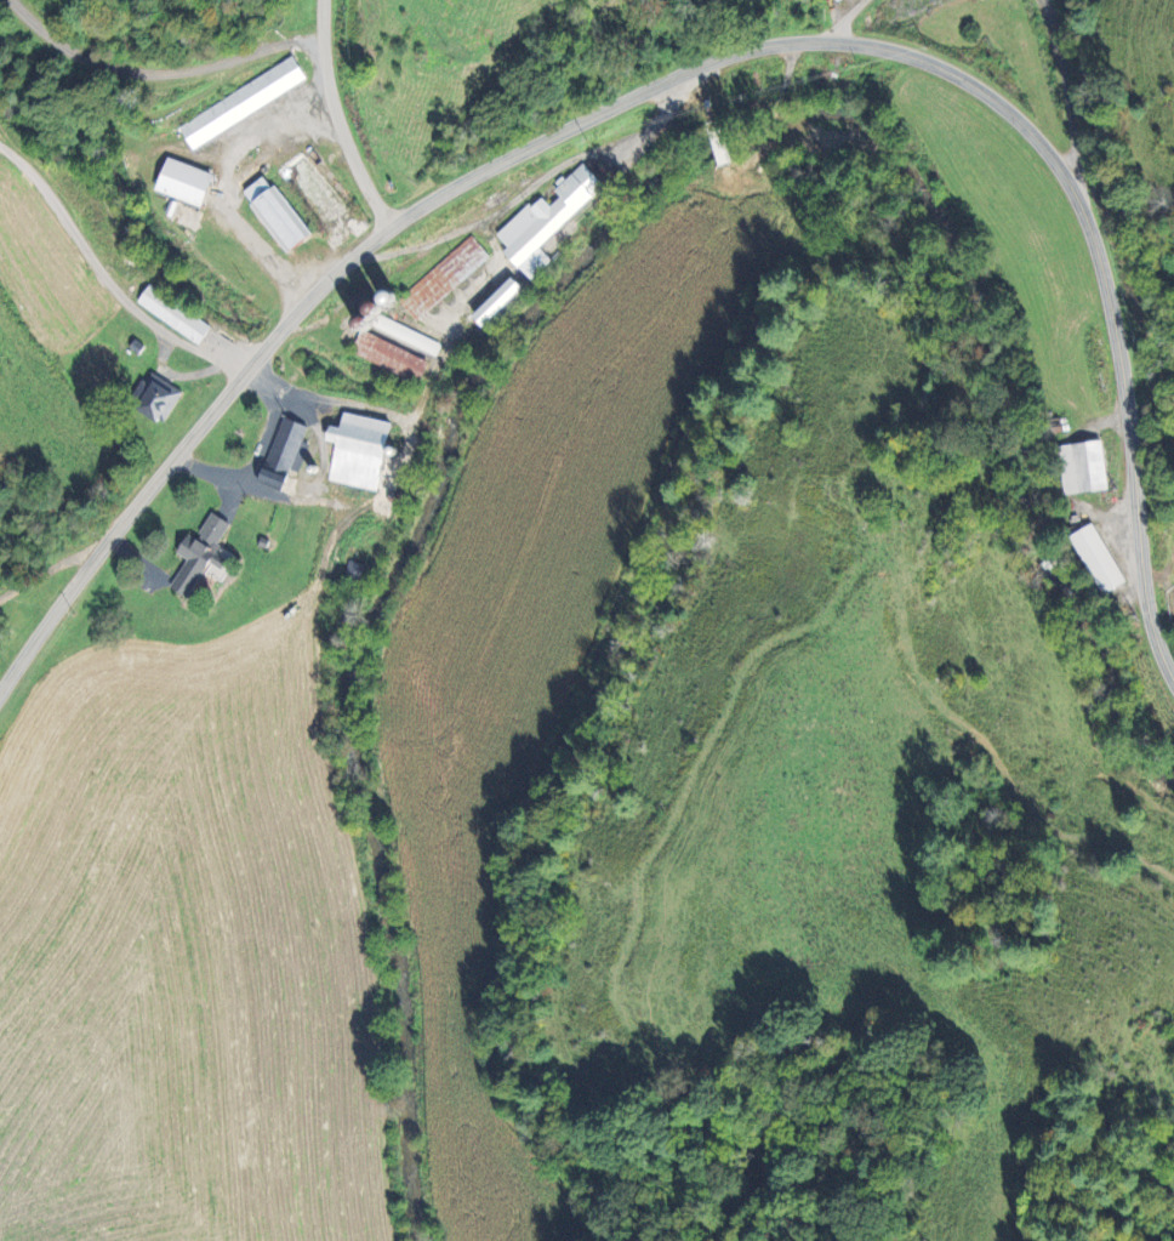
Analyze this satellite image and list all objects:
road: (843, 18)
road: (164, 72)
road: (691, 72)
road: (1066, 96)
building: (245, 102)
road: (340, 118)
building: (188, 182)
building: (280, 216)
building: (548, 222)
road: (106, 277)
building: (446, 278)
building: (502, 302)
building: (176, 315)
building: (389, 357)
building: (155, 398)
building: (287, 446)
building: (361, 452)
building: (1081, 466)
building: (204, 556)
building: (1093, 558)

